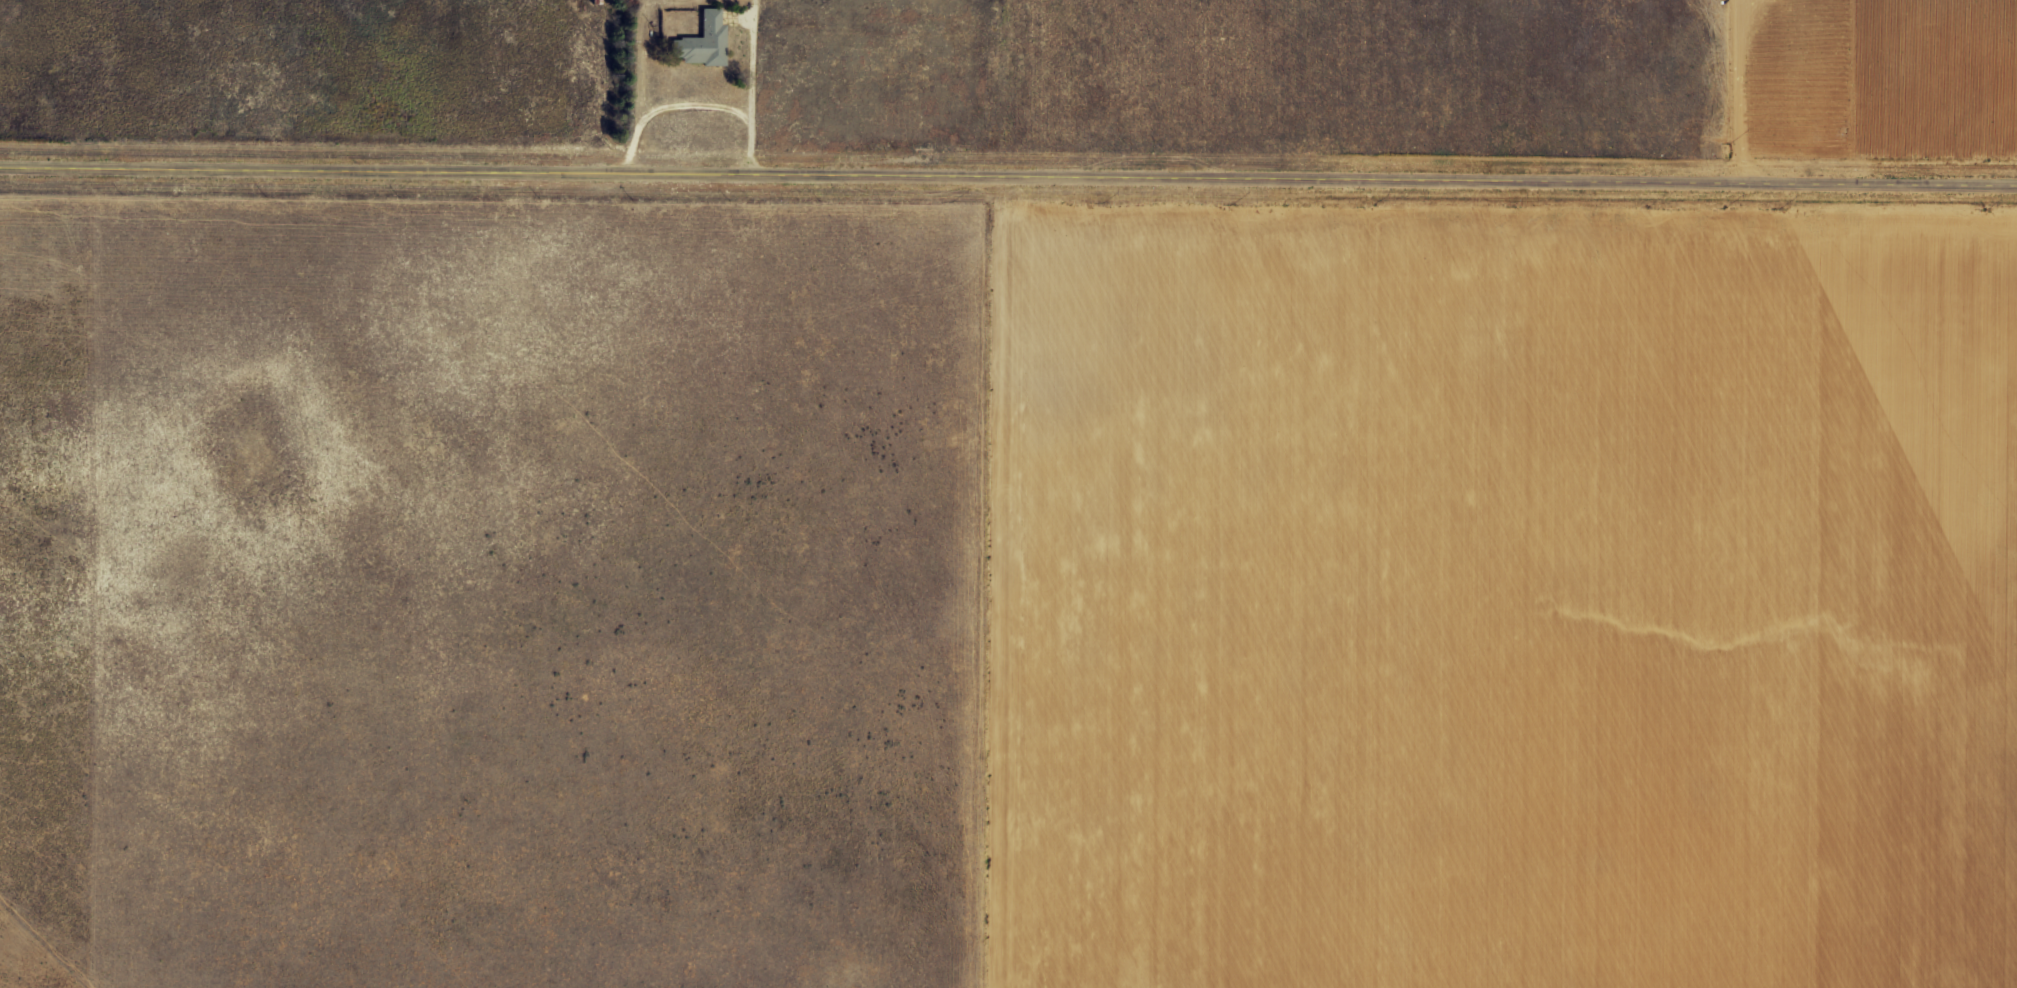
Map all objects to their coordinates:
building: (698, 43)
road: (751, 97)
road: (669, 104)
road: (1008, 175)

